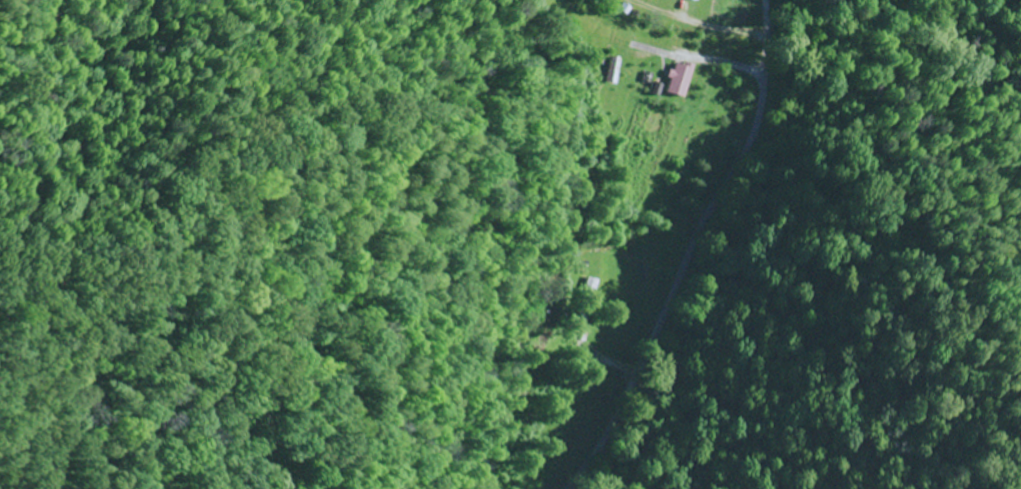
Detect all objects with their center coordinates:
building: (695, 0)
building: (678, 79)
building: (658, 88)
road: (697, 254)
building: (586, 302)

